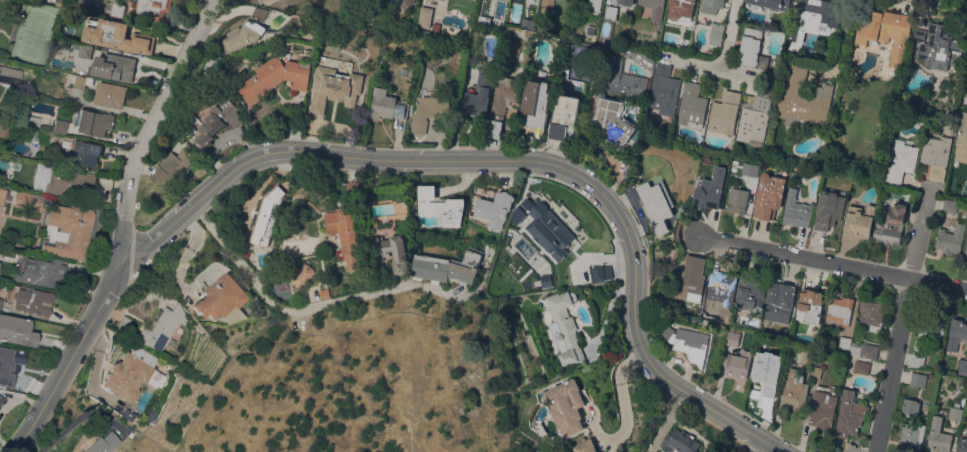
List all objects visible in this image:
building: (408, 1)
building: (60, 2)
building: (626, 2)
building: (547, 3)
building: (594, 4)
building: (771, 4)
building: (710, 5)
building: (115, 8)
building: (654, 8)
building: (375, 9)
building: (680, 9)
building: (154, 10)
building: (261, 12)
building: (610, 12)
building: (425, 16)
building: (812, 19)
building: (885, 31)
building: (716, 33)
building: (116, 35)
building: (243, 35)
building: (667, 36)
road: (732, 38)
building: (937, 47)
building: (752, 49)
building: (85, 51)
building: (114, 66)
building: (9, 76)
building: (278, 77)
building: (81, 81)
building: (626, 82)
building: (335, 88)
building: (664, 90)
building: (110, 94)
building: (479, 96)
building: (803, 100)
building: (536, 102)
building: (612, 102)
building: (915, 102)
building: (501, 103)
building: (387, 105)
building: (692, 106)
building: (430, 110)
building: (724, 113)
building: (564, 117)
building: (754, 119)
building: (33, 120)
building: (217, 121)
building: (93, 122)
building: (612, 123)
building: (60, 126)
road: (146, 127)
building: (33, 134)
building: (962, 140)
building: (82, 154)
building: (936, 156)
road: (408, 161)
building: (900, 161)
building: (173, 168)
building: (751, 170)
building: (70, 182)
building: (354, 188)
building: (710, 189)
building: (2, 192)
building: (770, 194)
building: (738, 200)
building: (27, 201)
building: (657, 204)
building: (441, 206)
building: (950, 206)
building: (493, 210)
building: (796, 210)
building: (828, 210)
building: (267, 213)
building: (859, 221)
building: (891, 225)
building: (544, 227)
building: (67, 231)
building: (345, 235)
building: (950, 239)
building: (392, 252)
building: (965, 253)
road: (184, 259)
road: (832, 264)
building: (468, 265)
building: (433, 267)
building: (41, 272)
building: (596, 273)
building: (303, 275)
building: (690, 279)
building: (721, 287)
building: (750, 292)
building: (324, 294)
building: (221, 298)
building: (31, 300)
building: (779, 301)
building: (1, 302)
building: (810, 306)
road: (307, 308)
building: (840, 309)
building: (872, 314)
building: (126, 324)
building: (160, 327)
building: (563, 327)
building: (25, 330)
building: (929, 330)
building: (957, 334)
road: (899, 337)
building: (735, 338)
building: (689, 342)
building: (844, 342)
building: (863, 349)
building: (808, 356)
building: (917, 361)
building: (737, 363)
building: (7, 364)
building: (963, 366)
building: (861, 367)
road: (93, 368)
building: (767, 372)
building: (817, 372)
building: (132, 373)
building: (918, 379)
building: (795, 390)
building: (1, 399)
road: (622, 401)
building: (566, 406)
building: (911, 406)
building: (822, 410)
building: (955, 413)
building: (850, 414)
building: (539, 429)
road: (408, 430)
building: (911, 436)
building: (939, 436)
building: (679, 441)
building: (102, 443)
building: (962, 445)
building: (585, 446)

